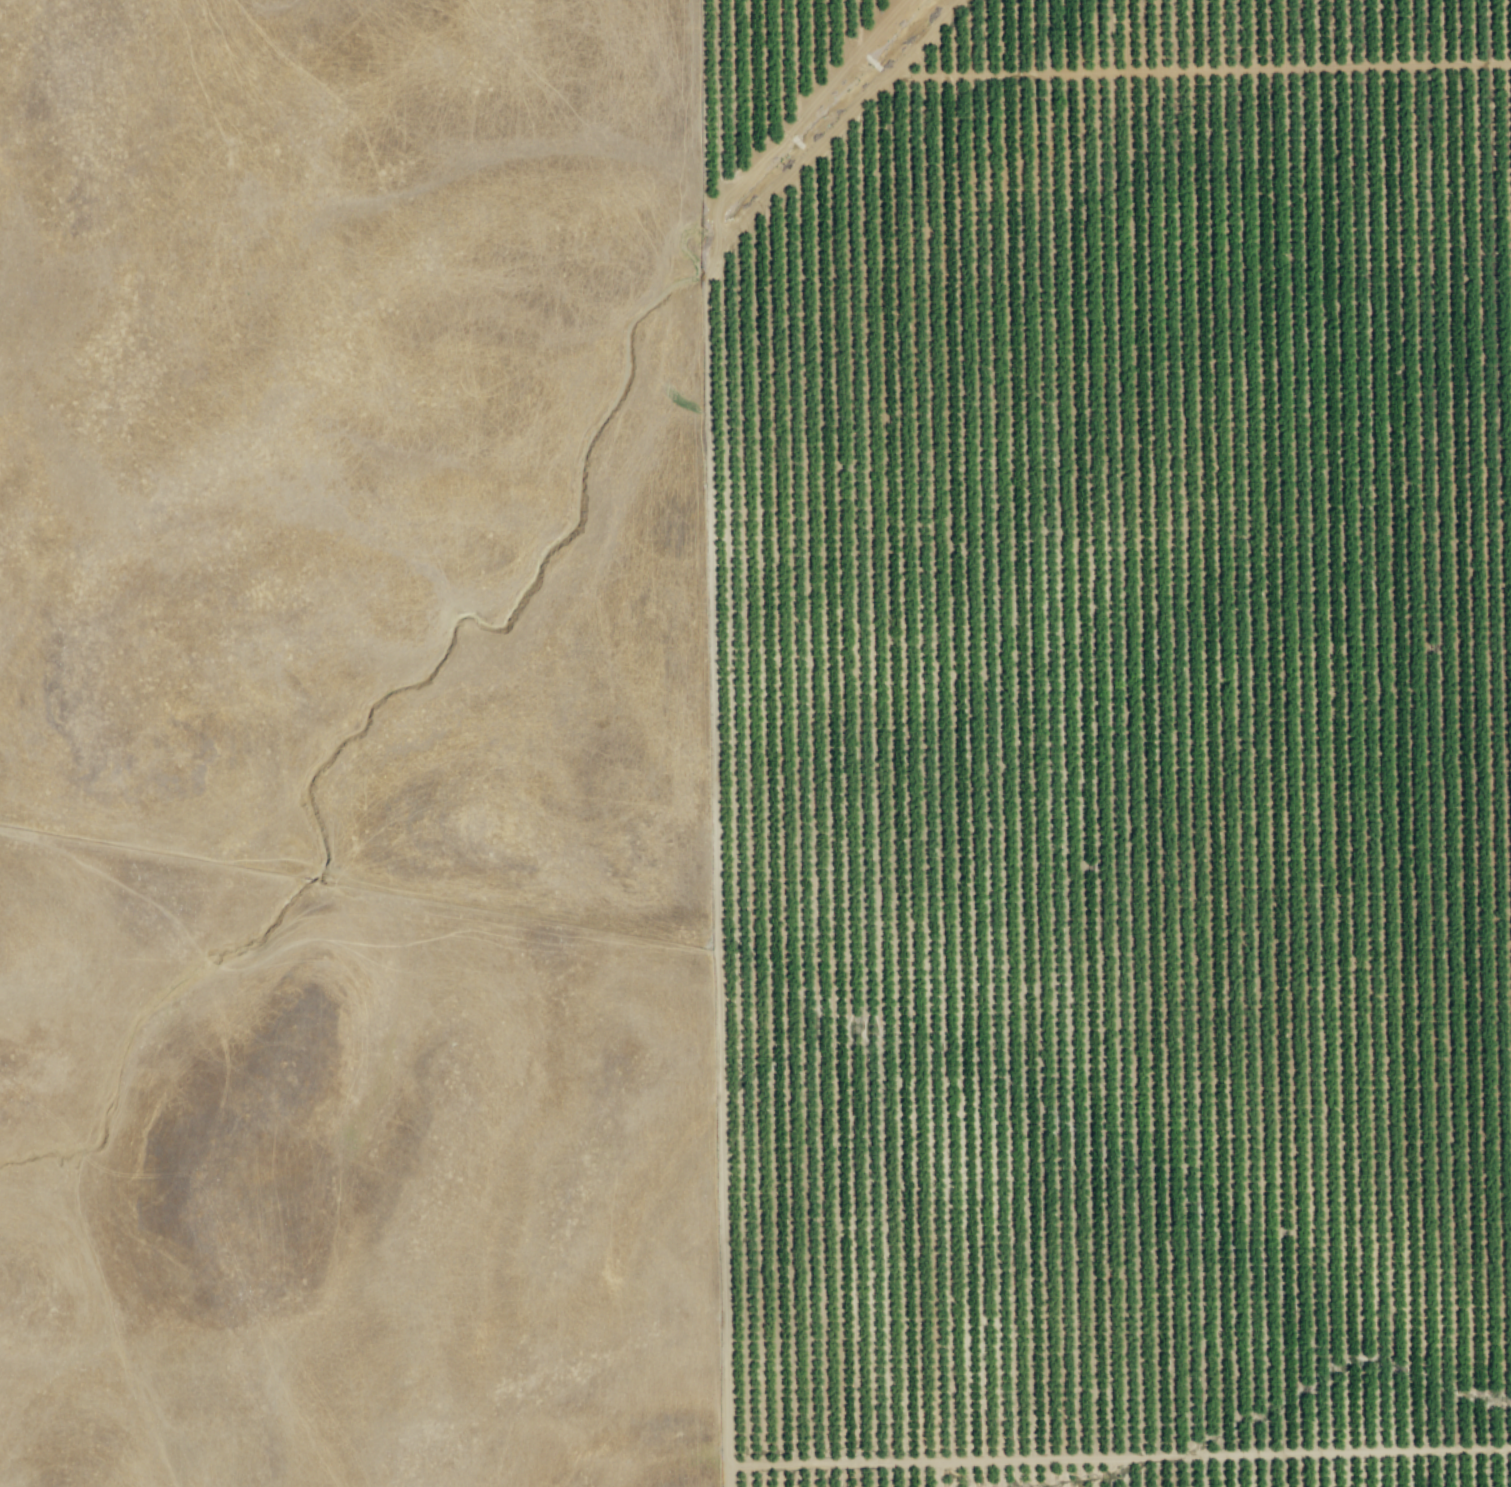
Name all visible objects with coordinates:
road: (712, 682)
road: (1120, 1457)

